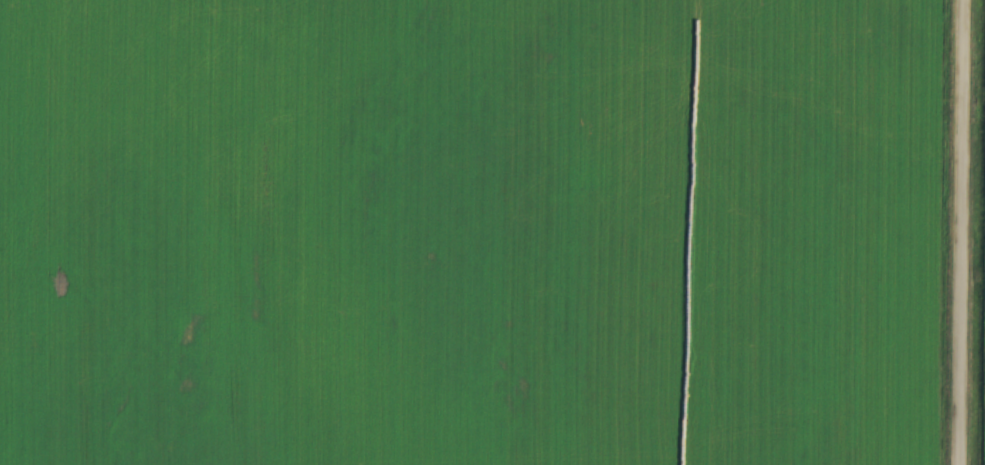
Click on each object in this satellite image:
road: (969, 232)

